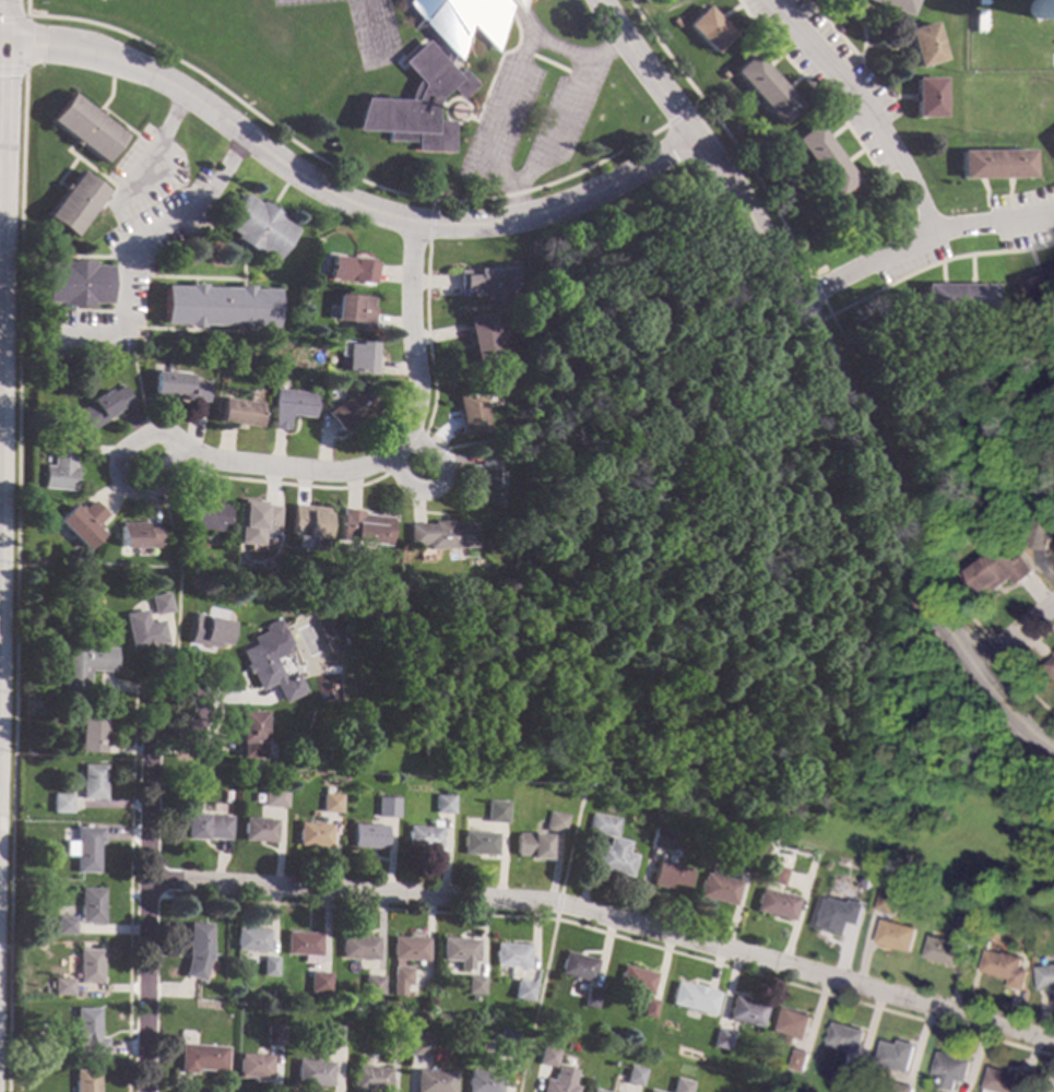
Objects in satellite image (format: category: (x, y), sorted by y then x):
water tower: (1023, 4)
building: (895, 5)
building: (674, 22)
road: (5, 23)
building: (707, 29)
road: (372, 32)
building: (925, 44)
road: (2, 46)
road: (561, 51)
road: (601, 52)
road: (1053, 62)
building: (434, 72)
building: (720, 74)
building: (763, 88)
road: (4, 97)
building: (928, 97)
road: (862, 107)
building: (84, 129)
building: (1052, 139)
building: (785, 147)
road: (163, 153)
road: (3, 156)
building: (822, 161)
building: (995, 164)
road: (342, 199)
building: (74, 204)
building: (256, 227)
road: (920, 240)
road: (1, 241)
road: (131, 246)
building: (350, 270)
building: (487, 282)
building: (74, 284)
building: (1037, 285)
building: (956, 298)
building: (218, 306)
building: (354, 311)
road: (807, 322)
building: (482, 340)
road: (126, 342)
building: (360, 358)
building: (452, 385)
building: (180, 387)
road: (141, 397)
building: (103, 407)
building: (292, 407)
building: (352, 411)
building: (240, 412)
building: (470, 413)
road: (394, 443)
park: (961, 448)
road: (560, 449)
building: (59, 465)
road: (114, 476)
building: (485, 480)
road: (438, 485)
building: (204, 514)
building: (252, 522)
building: (81, 523)
building: (307, 524)
building: (1043, 526)
building: (360, 529)
building: (994, 530)
building: (439, 535)
building: (137, 536)
building: (999, 569)
road: (179, 574)
building: (406, 577)
park: (692, 580)
building: (159, 604)
building: (142, 630)
building: (208, 631)
road: (1014, 637)
building: (1051, 665)
building: (83, 666)
building: (271, 666)
road: (646, 685)
road: (140, 688)
road: (1008, 713)
building: (92, 731)
building: (251, 734)
building: (92, 782)
building: (329, 790)
building: (276, 799)
building: (61, 803)
building: (333, 803)
building: (445, 804)
building: (553, 806)
building: (389, 807)
building: (497, 811)
building: (557, 822)
building: (604, 824)
building: (206, 827)
building: (259, 830)
building: (316, 834)
building: (370, 836)
building: (426, 836)
building: (662, 839)
building: (481, 843)
building: (533, 845)
building: (84, 848)
building: (616, 857)
building: (744, 862)
building: (775, 874)
building: (671, 876)
building: (719, 887)
road: (144, 894)
building: (862, 898)
road: (144, 900)
building: (887, 902)
building: (778, 904)
building: (90, 905)
building: (837, 916)
road: (606, 917)
building: (64, 925)
building: (966, 926)
building: (896, 935)
building: (250, 939)
building: (303, 946)
building: (357, 947)
road: (4, 948)
building: (408, 948)
building: (197, 950)
building: (943, 950)
building: (459, 951)
building: (510, 956)
building: (88, 965)
building: (268, 966)
building: (577, 966)
building: (1005, 968)
building: (400, 975)
building: (1044, 976)
building: (636, 981)
building: (317, 983)
building: (371, 985)
building: (473, 985)
building: (62, 987)
building: (522, 990)
building: (590, 998)
building: (692, 998)
building: (648, 1008)
building: (746, 1012)
road: (9, 1020)
building: (790, 1023)
building: (87, 1034)
building: (274, 1035)
building: (330, 1035)
building: (845, 1037)
building: (721, 1038)
building: (391, 1043)
building: (421, 1045)
building: (506, 1048)
building: (896, 1055)
building: (547, 1056)
building: (200, 1058)
building: (800, 1060)
building: (253, 1066)
building: (950, 1068)
building: (312, 1071)
building: (632, 1076)
building: (370, 1079)
building: (84, 1080)
building: (844, 1080)
building: (433, 1081)
building: (483, 1081)
building: (559, 1081)
building: (1002, 1081)
building: (680, 1085)
building: (899, 1088)
building: (594, 1091)
building: (651, 1091)

